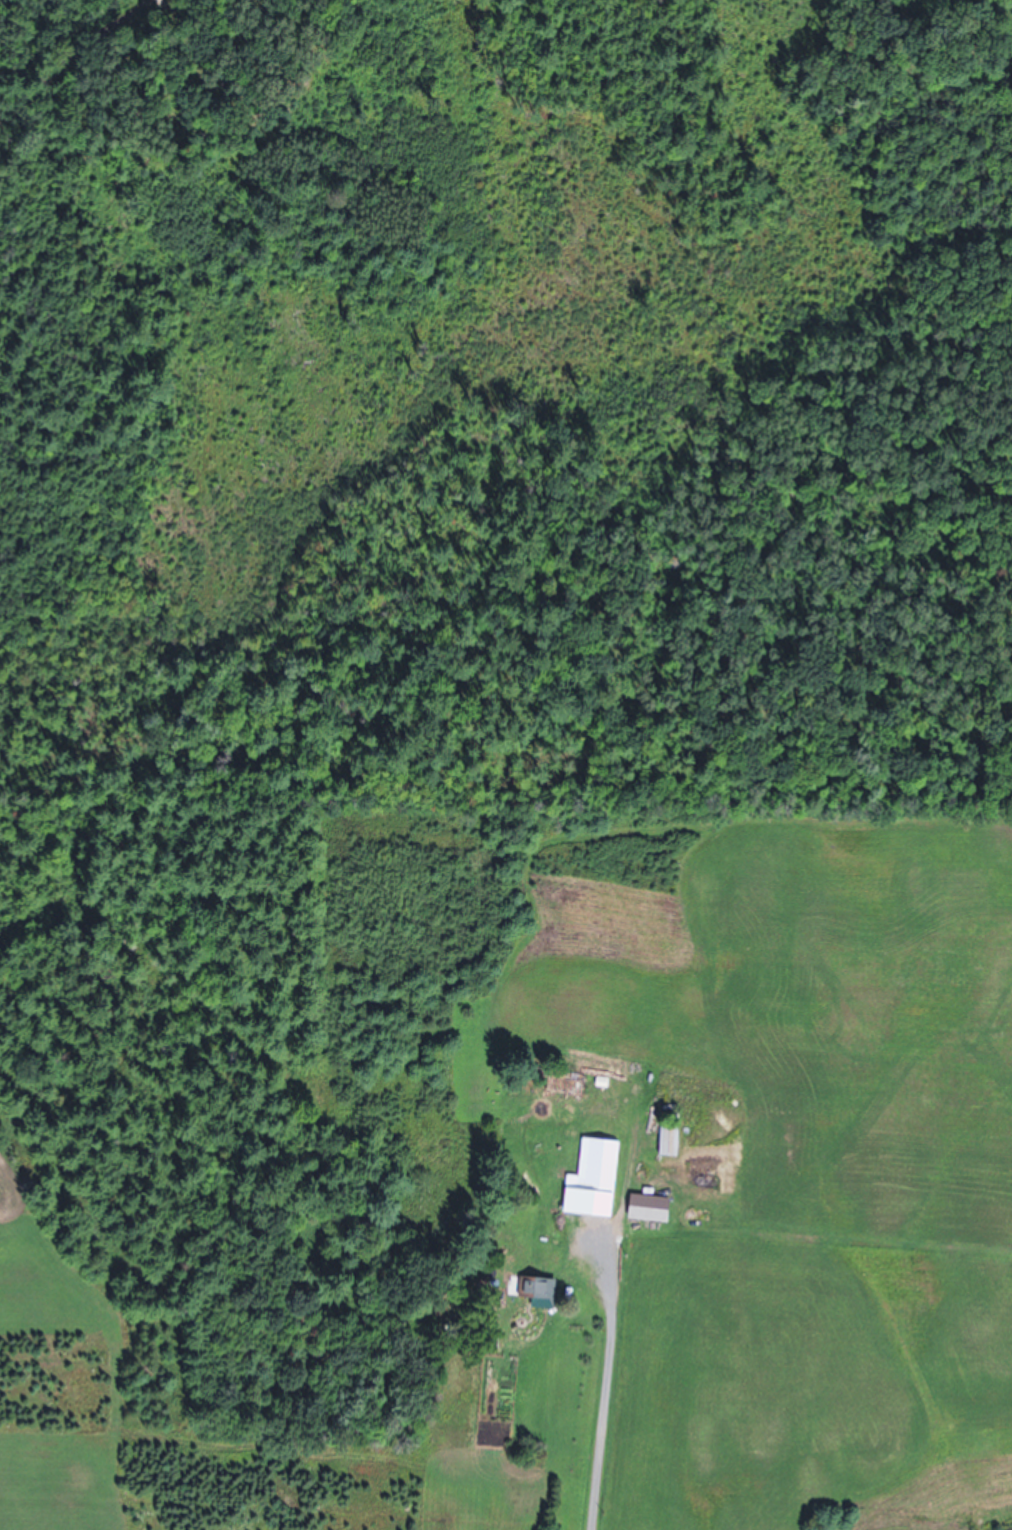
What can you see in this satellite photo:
building: (561, 1080)
building: (668, 1138)
building: (593, 1180)
building: (533, 1285)
road: (606, 1338)

